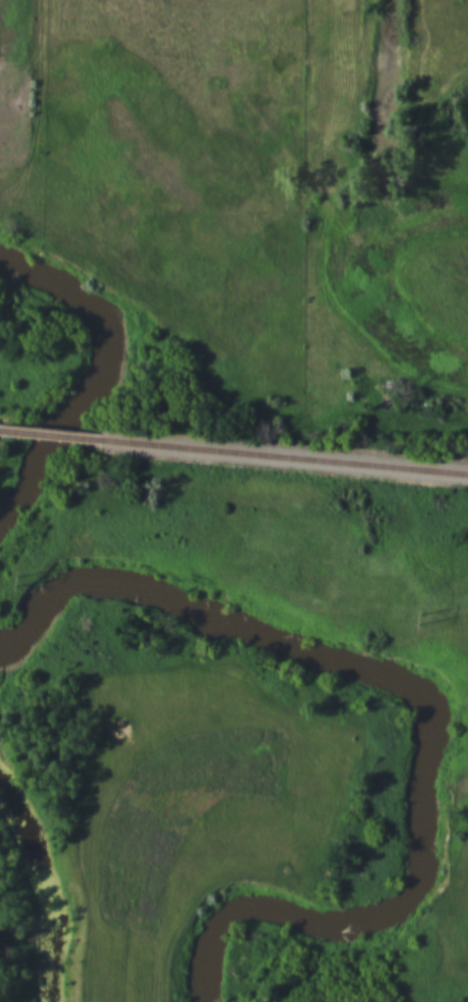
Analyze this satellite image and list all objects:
river: (108, 378)
railway: (13, 430)
railway: (53, 434)
railway: (274, 454)
power tower: (19, 578)
power tower: (422, 613)
river: (376, 672)
river: (217, 944)

